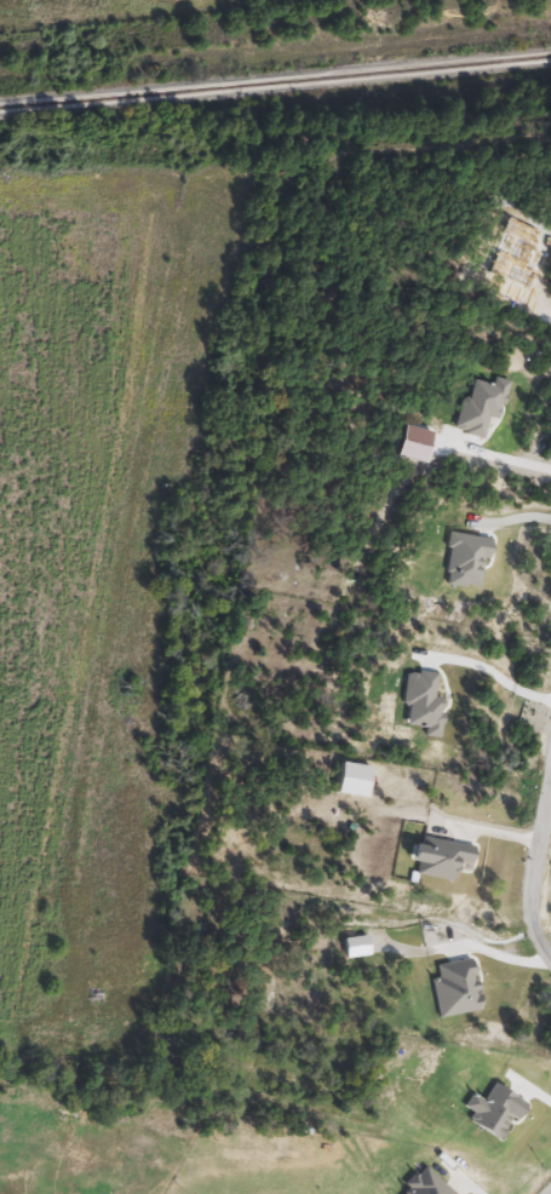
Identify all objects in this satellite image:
railway: (275, 84)
road: (497, 455)
road: (493, 671)
road: (532, 857)
road: (530, 1089)
road: (550, 1193)

